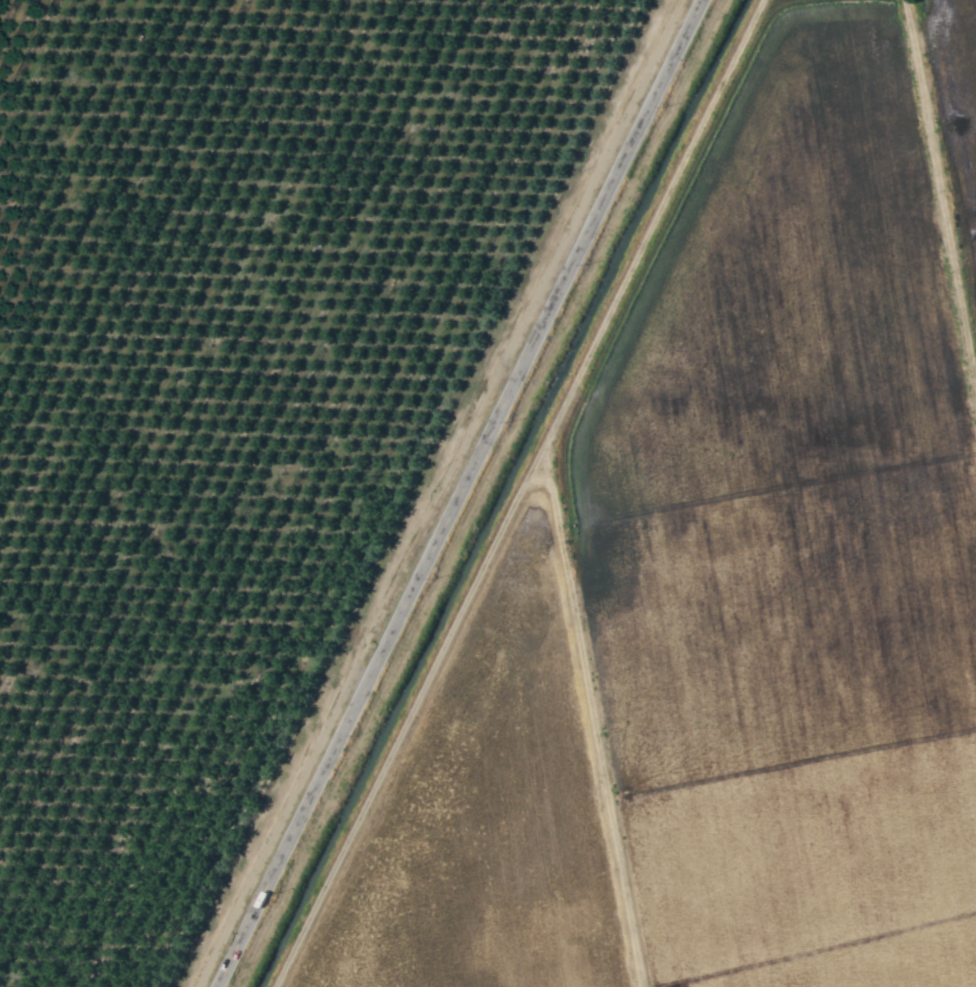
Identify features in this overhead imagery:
road: (466, 494)

